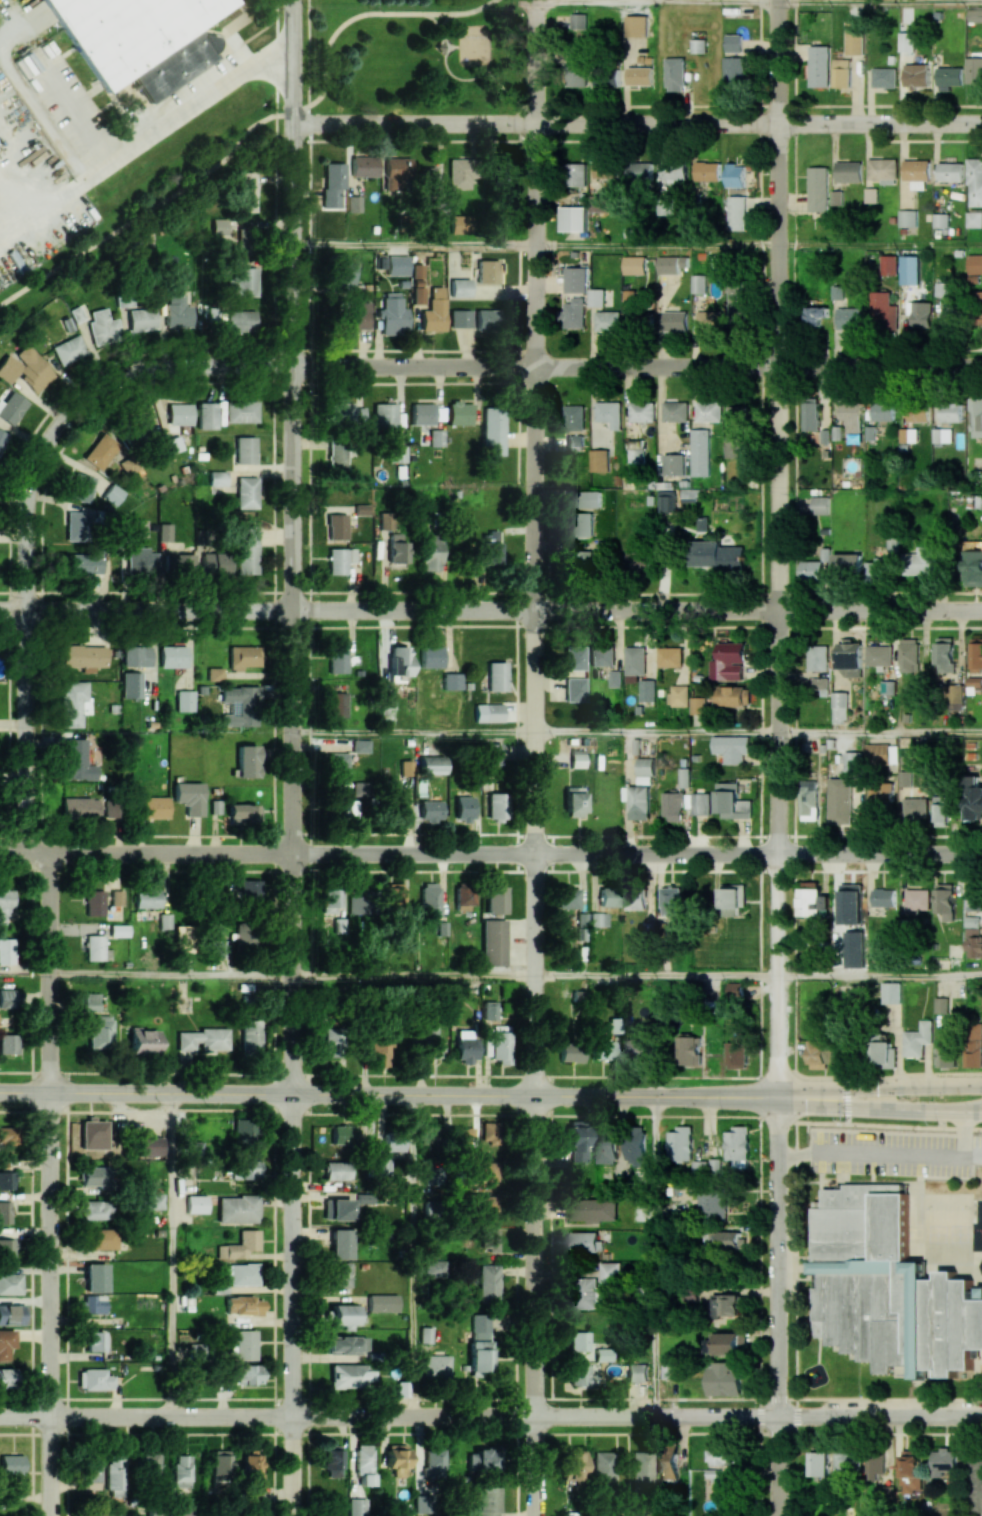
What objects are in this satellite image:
road: (655, 2)
road: (880, 3)
road: (362, 14)
building: (975, 15)
building: (578, 21)
road: (440, 25)
building: (637, 25)
building: (128, 30)
building: (854, 36)
building: (906, 41)
building: (734, 42)
building: (699, 45)
road: (451, 46)
park: (413, 56)
building: (649, 59)
road: (308, 61)
building: (819, 65)
road: (482, 66)
building: (974, 70)
building: (734, 71)
building: (842, 73)
building: (577, 74)
building: (675, 74)
road: (474, 75)
building: (640, 75)
building: (916, 75)
building: (615, 77)
building: (884, 77)
building: (949, 78)
road: (520, 114)
road: (637, 122)
road: (141, 141)
building: (364, 166)
building: (606, 167)
building: (883, 168)
building: (674, 169)
building: (917, 170)
building: (637, 171)
building: (707, 171)
building: (849, 171)
building: (950, 171)
building: (459, 173)
building: (397, 174)
building: (575, 174)
building: (735, 175)
building: (428, 179)
building: (975, 182)
building: (332, 183)
building: (818, 188)
building: (245, 191)
building: (871, 195)
building: (836, 197)
building: (599, 202)
building: (353, 203)
building: (665, 206)
road: (149, 208)
building: (737, 213)
building: (908, 218)
building: (573, 219)
building: (974, 219)
building: (941, 220)
building: (460, 224)
building: (219, 226)
road: (276, 233)
building: (629, 233)
building: (244, 239)
road: (412, 244)
road: (880, 244)
road: (655, 245)
building: (975, 264)
building: (634, 265)
building: (667, 265)
building: (889, 265)
building: (489, 271)
building: (342, 277)
building: (576, 279)
building: (974, 279)
building: (242, 281)
building: (698, 283)
building: (460, 287)
building: (436, 292)
building: (418, 295)
building: (596, 297)
building: (737, 304)
building: (978, 308)
building: (882, 311)
building: (948, 311)
building: (574, 313)
building: (920, 313)
building: (76, 314)
building: (392, 314)
building: (178, 315)
building: (815, 315)
building: (433, 316)
building: (638, 317)
building: (354, 318)
building: (459, 318)
building: (849, 318)
building: (141, 319)
building: (486, 319)
building: (241, 320)
building: (607, 321)
building: (675, 321)
building: (708, 321)
building: (102, 327)
building: (68, 349)
road: (637, 366)
building: (25, 368)
road: (80, 404)
building: (11, 407)
building: (882, 410)
building: (241, 411)
building: (642, 411)
building: (675, 411)
building: (709, 411)
building: (917, 411)
building: (458, 412)
building: (951, 412)
building: (421, 413)
building: (608, 413)
building: (179, 414)
building: (206, 415)
building: (344, 415)
building: (810, 415)
building: (851, 415)
building: (384, 417)
building: (574, 417)
building: (976, 417)
building: (138, 424)
building: (492, 431)
building: (734, 431)
building: (908, 435)
building: (942, 436)
building: (435, 437)
building: (3, 440)
building: (574, 442)
building: (173, 444)
building: (245, 449)
building: (100, 451)
building: (700, 452)
building: (397, 454)
building: (336, 455)
building: (636, 456)
building: (599, 460)
building: (674, 464)
building: (216, 478)
building: (80, 487)
building: (246, 492)
building: (113, 494)
building: (586, 499)
building: (667, 501)
building: (820, 505)
building: (361, 509)
building: (581, 524)
building: (77, 526)
building: (336, 526)
building: (134, 529)
building: (164, 531)
road: (292, 546)
building: (488, 547)
building: (397, 548)
road: (533, 548)
road: (778, 548)
building: (247, 549)
building: (430, 554)
building: (716, 555)
building: (339, 559)
building: (583, 560)
building: (138, 561)
building: (925, 561)
building: (83, 562)
building: (638, 562)
building: (215, 563)
building: (847, 563)
building: (178, 564)
building: (972, 568)
building: (876, 569)
building: (811, 570)
road: (760, 580)
road: (145, 609)
road: (637, 609)
building: (976, 654)
building: (135, 655)
building: (879, 655)
building: (909, 655)
building: (945, 655)
building: (84, 656)
building: (173, 656)
building: (243, 656)
building: (430, 656)
building: (601, 656)
building: (574, 657)
building: (670, 657)
building: (819, 658)
building: (849, 659)
building: (336, 660)
building: (399, 660)
building: (728, 661)
building: (634, 663)
building: (214, 673)
building: (496, 676)
building: (615, 678)
building: (451, 681)
building: (131, 684)
building: (974, 685)
building: (575, 689)
building: (647, 690)
building: (678, 695)
building: (734, 696)
building: (954, 697)
building: (184, 700)
building: (72, 703)
building: (337, 704)
building: (239, 705)
building: (698, 705)
building: (840, 707)
building: (492, 712)
road: (28, 730)
road: (412, 731)
road: (880, 731)
road: (655, 732)
building: (359, 745)
building: (731, 748)
building: (491, 754)
building: (882, 754)
building: (577, 759)
building: (77, 760)
building: (247, 761)
building: (853, 762)
building: (431, 764)
building: (337, 765)
building: (405, 767)
building: (645, 770)
building: (906, 779)
building: (882, 796)
building: (189, 797)
building: (973, 798)
building: (346, 800)
building: (809, 800)
building: (840, 801)
building: (573, 802)
building: (639, 802)
building: (732, 802)
building: (700, 803)
building: (673, 805)
building: (400, 806)
building: (496, 806)
building: (155, 807)
building: (80, 808)
building: (111, 808)
building: (463, 808)
building: (915, 808)
building: (940, 809)
building: (430, 810)
building: (242, 812)
road: (146, 852)
road: (637, 853)
building: (246, 886)
building: (395, 895)
building: (610, 896)
building: (883, 897)
building: (116, 898)
building: (146, 898)
building: (429, 898)
building: (462, 898)
building: (495, 898)
building: (567, 898)
building: (975, 898)
building: (331, 899)
building: (732, 899)
building: (812, 899)
building: (918, 899)
building: (636, 900)
building: (945, 900)
building: (94, 902)
building: (671, 902)
building: (358, 903)
building: (5, 904)
building: (851, 904)
building: (598, 918)
building: (118, 930)
building: (244, 934)
building: (179, 938)
building: (974, 938)
building: (495, 943)
building: (94, 947)
building: (217, 947)
building: (854, 949)
building: (6, 950)
road: (49, 972)
road: (170, 973)
road: (412, 975)
road: (655, 975)
road: (880, 976)
building: (734, 989)
building: (890, 992)
building: (7, 998)
building: (91, 1001)
building: (941, 1005)
building: (490, 1010)
building: (613, 1025)
building: (99, 1032)
building: (250, 1036)
building: (201, 1039)
building: (918, 1039)
building: (432, 1040)
building: (143, 1042)
building: (331, 1042)
building: (8, 1043)
building: (497, 1043)
building: (974, 1044)
building: (464, 1047)
building: (638, 1047)
building: (380, 1050)
building: (603, 1050)
building: (689, 1050)
building: (571, 1051)
building: (737, 1053)
building: (819, 1054)
building: (884, 1054)
building: (947, 1056)
road: (877, 1088)
traffic signals: (846, 1089)
road: (146, 1093)
road: (532, 1096)
road: (761, 1097)
road: (846, 1100)
traffic signals: (846, 1105)
road: (877, 1106)
road: (913, 1126)
building: (243, 1130)
building: (491, 1132)
building: (92, 1134)
building: (342, 1134)
building: (7, 1136)
building: (460, 1138)
building: (578, 1143)
building: (681, 1143)
building: (636, 1145)
building: (152, 1146)
building: (738, 1146)
building: (608, 1148)
building: (383, 1166)
building: (244, 1169)
building: (337, 1170)
building: (489, 1172)
building: (95, 1176)
building: (432, 1176)
building: (6, 1180)
building: (147, 1201)
building: (712, 1203)
building: (196, 1204)
building: (490, 1204)
building: (94, 1209)
building: (237, 1209)
building: (341, 1209)
building: (593, 1209)
building: (4, 1212)
road: (760, 1223)
building: (100, 1238)
building: (490, 1239)
building: (731, 1240)
building: (584, 1242)
building: (340, 1243)
building: (239, 1245)
building: (8, 1248)
road: (170, 1254)
road: (413, 1255)
road: (655, 1255)
road: (971, 1265)
building: (435, 1268)
building: (241, 1273)
building: (610, 1273)
building: (340, 1275)
building: (95, 1277)
building: (10, 1283)
building: (488, 1283)
building: (219, 1287)
building: (887, 1287)
building: (586, 1293)
building: (382, 1303)
road: (49, 1304)
building: (93, 1304)
road: (292, 1304)
building: (243, 1305)
road: (774, 1305)
road: (534, 1306)
building: (728, 1306)
building: (12, 1314)
building: (345, 1315)
building: (480, 1326)
building: (426, 1334)
building: (94, 1340)
building: (579, 1341)
building: (5, 1342)
building: (244, 1344)
building: (345, 1344)
building: (732, 1344)
road: (794, 1354)
building: (480, 1356)
building: (437, 1365)
building: (671, 1370)
building: (636, 1372)
building: (247, 1374)
building: (349, 1375)
road: (973, 1376)
building: (5, 1377)
building: (579, 1378)
building: (93, 1379)
building: (725, 1379)
building: (402, 1389)
road: (637, 1415)
road: (146, 1416)
building: (723, 1454)
building: (485, 1458)
building: (397, 1459)
building: (331, 1461)
building: (847, 1461)
building: (433, 1462)
building: (945, 1462)
building: (667, 1463)
building: (819, 1463)
building: (11, 1464)
building: (364, 1464)
building: (572, 1464)
building: (875, 1466)
building: (250, 1467)
building: (602, 1467)
building: (149, 1468)
building: (220, 1468)
building: (640, 1469)
building: (910, 1470)
building: (181, 1471)
building: (89, 1474)
building: (114, 1475)
building: (976, 1484)
building: (882, 1491)
building: (487, 1501)
building: (421, 1504)
building: (356, 1506)
building: (181, 1511)

